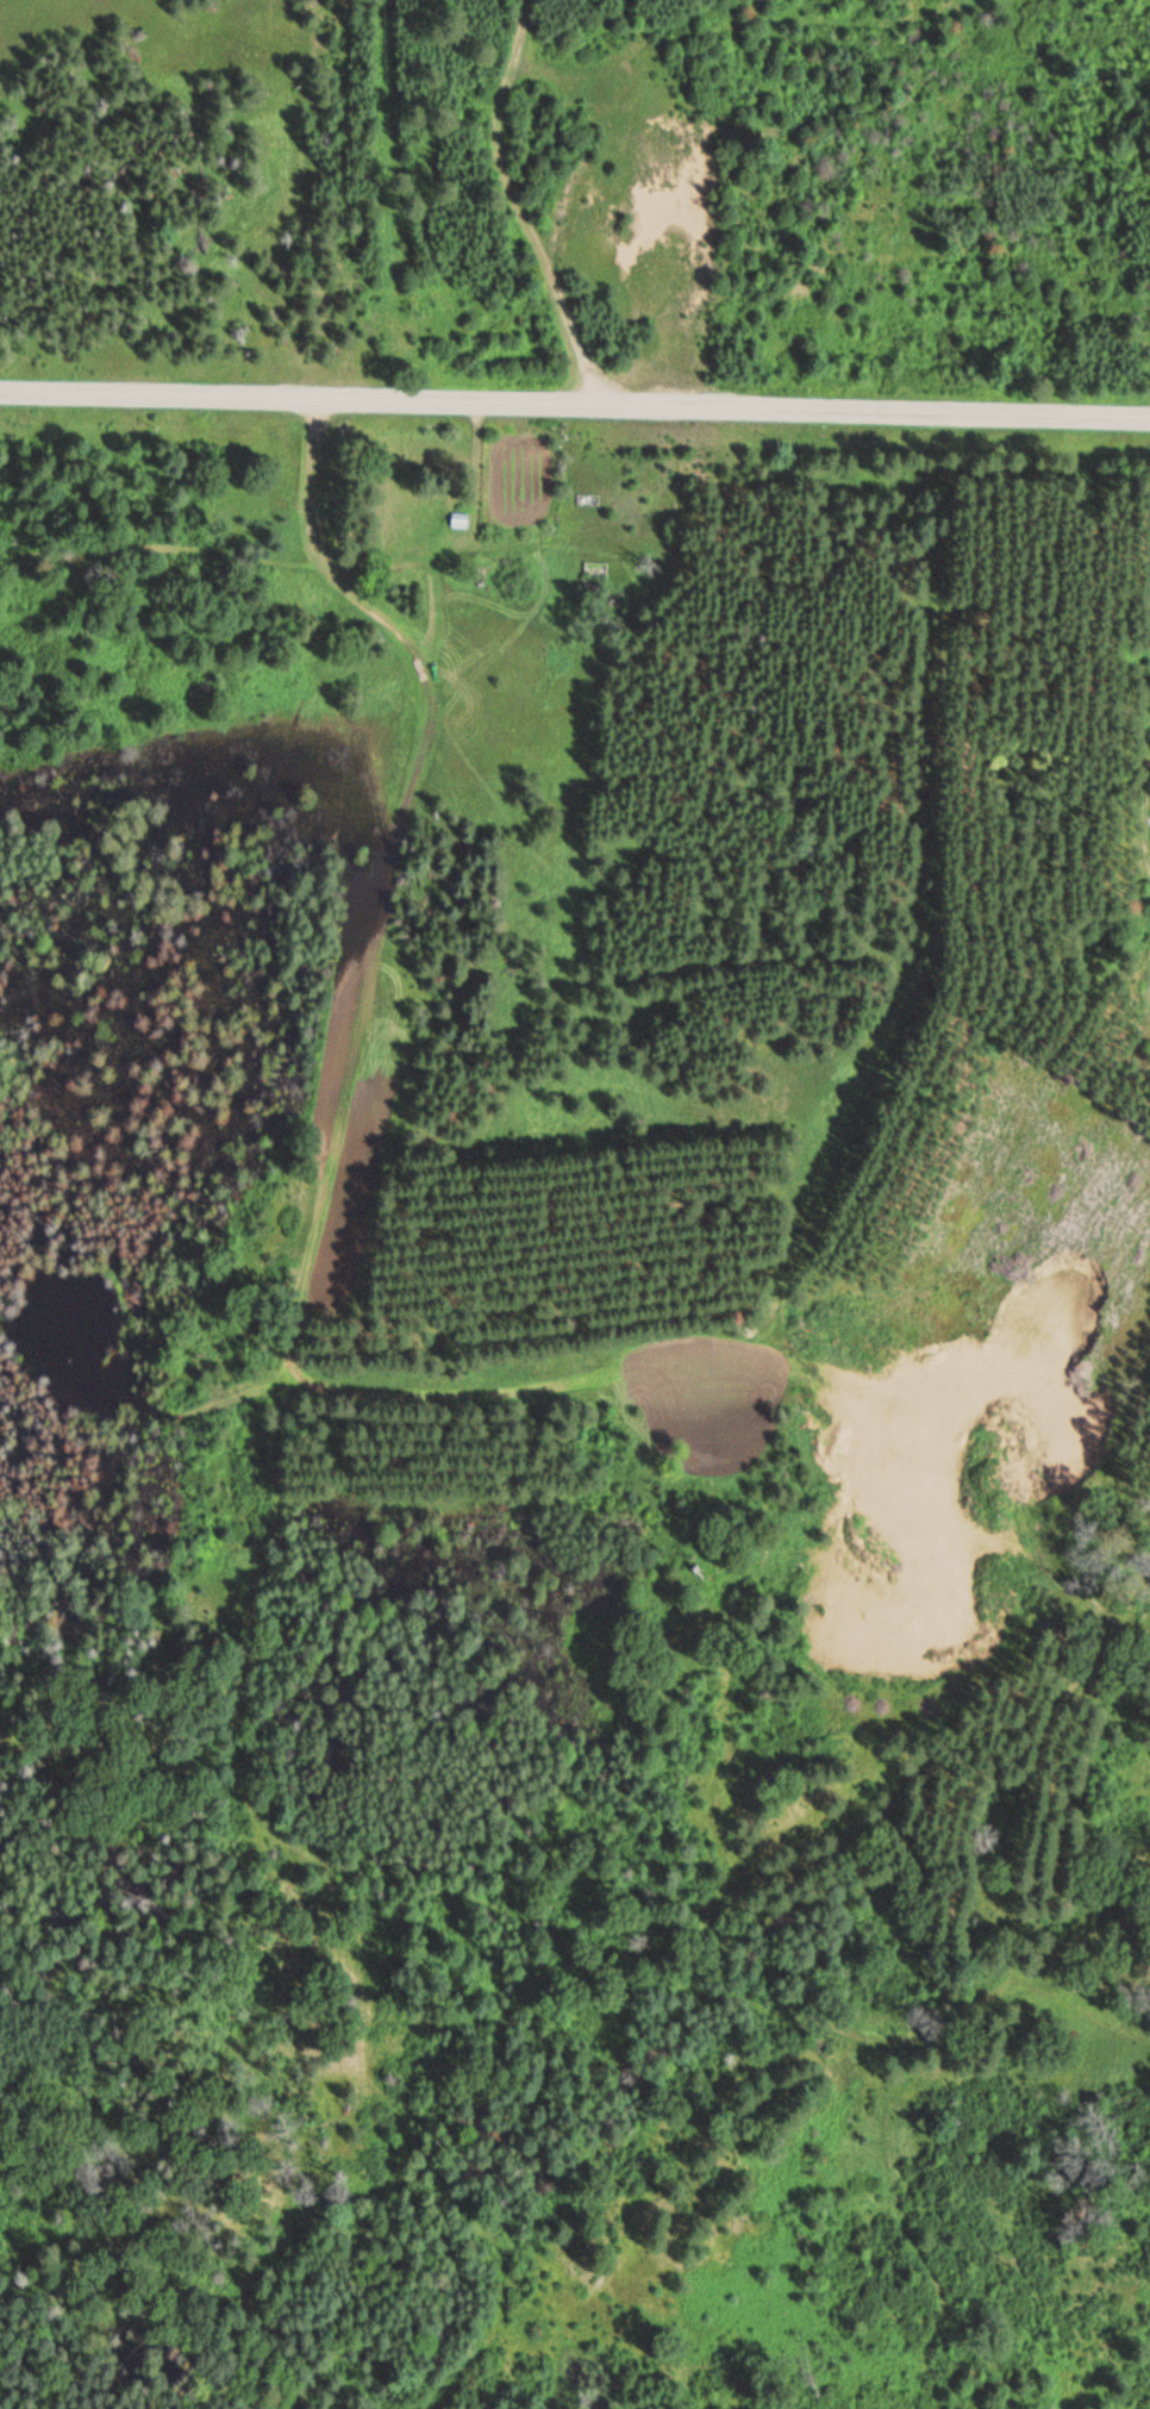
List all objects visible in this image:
road: (527, 160)
road: (575, 400)
building: (462, 519)
building: (594, 579)

